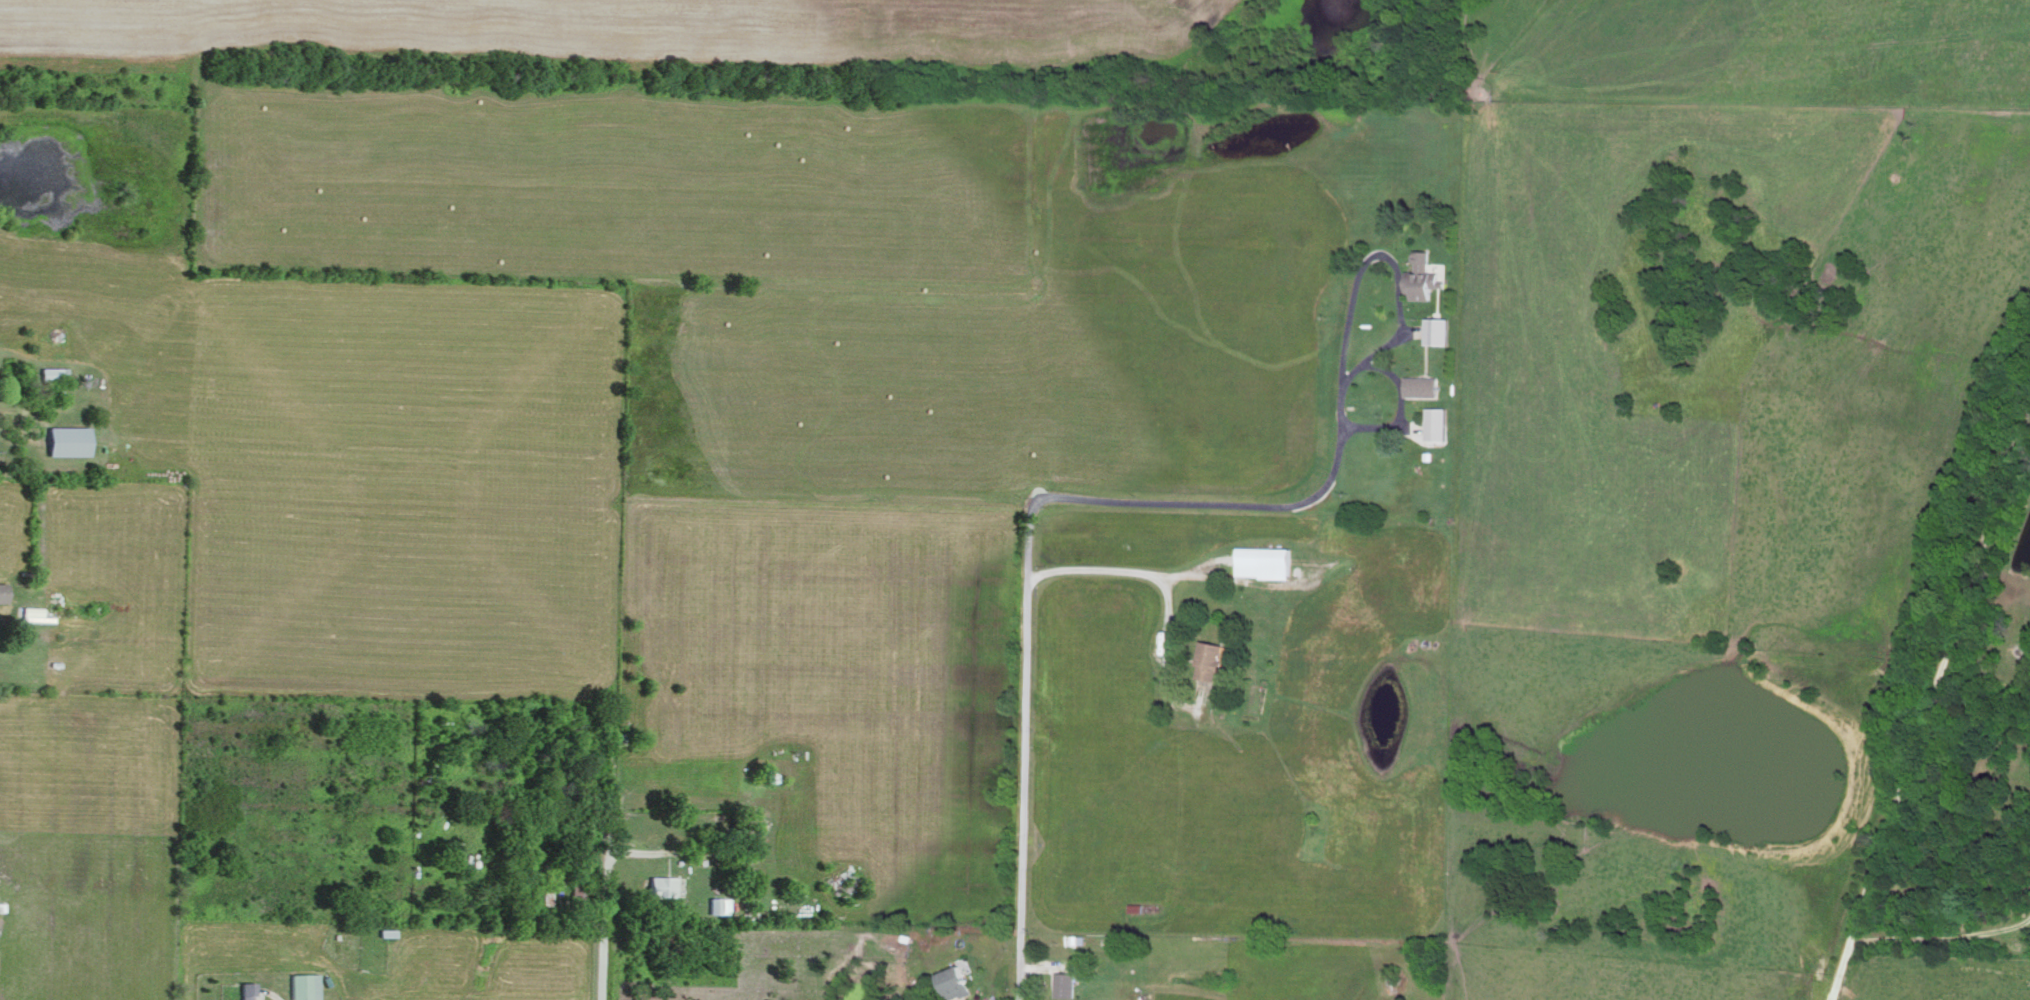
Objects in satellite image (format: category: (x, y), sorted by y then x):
road: (1390, 258)
building: (1423, 276)
building: (1439, 330)
building: (52, 372)
building: (1423, 385)
building: (1437, 423)
building: (69, 439)
road: (1028, 550)
building: (1265, 561)
road: (1166, 587)
building: (36, 613)
building: (1213, 659)
railway: (1930, 699)
road: (1931, 705)
building: (662, 885)
building: (719, 904)
road: (601, 919)
road: (1943, 936)
building: (957, 981)
building: (1068, 984)
building: (305, 985)
building: (248, 990)

